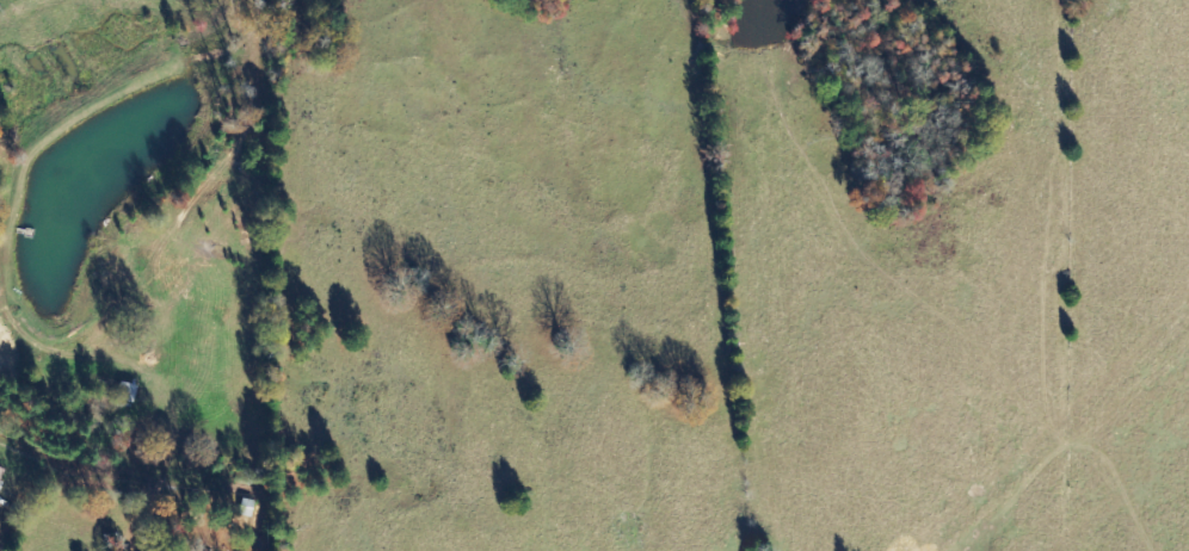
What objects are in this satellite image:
building: (1, 472)

